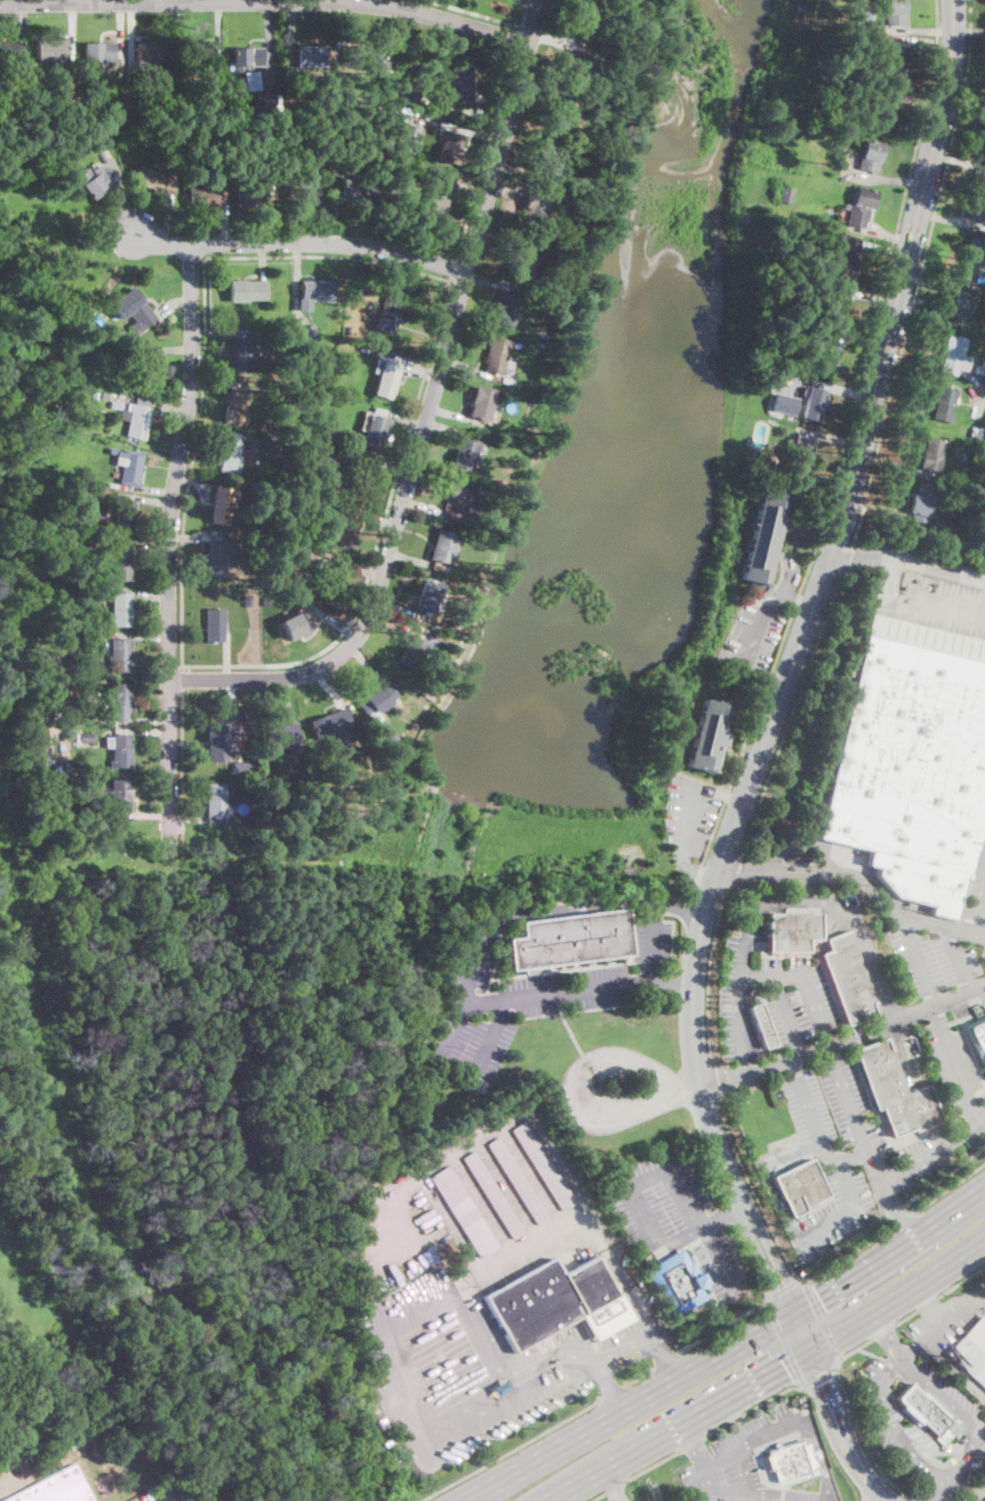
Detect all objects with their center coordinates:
road: (161, 0)
road: (12, 1)
road: (59, 1)
road: (316, 1)
road: (367, 1)
road: (268, 2)
road: (378, 2)
road: (534, 2)
building: (800, 6)
road: (473, 12)
building: (893, 12)
road: (525, 13)
building: (587, 16)
road: (19, 20)
road: (367, 25)
road: (120, 26)
road: (133, 27)
road: (72, 29)
road: (219, 29)
road: (919, 29)
road: (292, 30)
road: (268, 31)
road: (970, 31)
road: (518, 37)
road: (558, 40)
road: (923, 40)
building: (11, 52)
building: (52, 52)
building: (99, 52)
building: (149, 52)
building: (196, 54)
building: (313, 56)
building: (362, 56)
building: (246, 58)
building: (891, 60)
building: (573, 66)
building: (251, 80)
building: (460, 84)
road: (967, 84)
building: (407, 90)
road: (536, 92)
road: (920, 103)
building: (265, 105)
building: (882, 108)
building: (561, 110)
building: (117, 111)
road: (465, 111)
building: (147, 114)
road: (453, 125)
building: (100, 139)
building: (406, 139)
road: (521, 140)
building: (367, 143)
building: (452, 144)
road: (486, 153)
building: (869, 155)
building: (547, 161)
road: (958, 168)
building: (984, 169)
building: (397, 172)
building: (156, 178)
road: (885, 179)
building: (95, 182)
road: (471, 187)
road: (120, 189)
road: (506, 191)
building: (786, 192)
building: (358, 193)
building: (301, 194)
building: (252, 195)
building: (204, 196)
building: (434, 196)
building: (979, 203)
building: (860, 207)
building: (534, 208)
road: (271, 214)
road: (322, 214)
road: (335, 214)
road: (227, 215)
road: (166, 220)
road: (948, 220)
road: (500, 233)
road: (890, 235)
road: (299, 242)
road: (884, 249)
building: (523, 255)
road: (328, 256)
building: (843, 256)
building: (973, 256)
road: (264, 261)
road: (296, 269)
road: (454, 269)
road: (935, 269)
road: (398, 273)
road: (919, 275)
road: (927, 280)
road: (488, 281)
building: (248, 289)
building: (314, 293)
road: (875, 298)
road: (174, 304)
building: (959, 304)
building: (836, 305)
building: (136, 309)
building: (507, 310)
building: (388, 314)
building: (348, 328)
road: (222, 330)
building: (308, 332)
building: (538, 334)
road: (859, 341)
building: (537, 344)
road: (168, 349)
building: (241, 354)
building: (498, 354)
building: (952, 354)
building: (826, 356)
road: (414, 364)
road: (470, 367)
building: (982, 368)
building: (142, 370)
road: (975, 374)
road: (975, 379)
building: (386, 380)
building: (322, 381)
building: (507, 381)
road: (209, 383)
road: (831, 387)
building: (117, 396)
building: (786, 402)
building: (943, 403)
road: (978, 403)
building: (237, 404)
building: (482, 404)
building: (813, 404)
road: (167, 405)
road: (425, 416)
road: (406, 420)
building: (136, 421)
road: (449, 426)
building: (376, 429)
road: (206, 430)
road: (831, 437)
building: (327, 438)
building: (269, 447)
building: (113, 450)
building: (283, 451)
building: (230, 453)
building: (801, 453)
building: (464, 454)
road: (843, 454)
building: (323, 455)
building: (933, 455)
road: (373, 460)
road: (192, 463)
road: (890, 467)
building: (130, 468)
building: (115, 473)
building: (359, 475)
road: (199, 480)
road: (144, 488)
building: (123, 493)
road: (145, 499)
building: (459, 500)
building: (921, 502)
building: (222, 506)
road: (420, 508)
building: (98, 513)
road: (372, 516)
building: (123, 517)
road: (882, 518)
building: (347, 528)
building: (947, 531)
building: (763, 536)
road: (193, 537)
building: (486, 539)
road: (378, 540)
road: (144, 544)
building: (442, 547)
building: (219, 556)
road: (906, 557)
road: (169, 558)
road: (409, 558)
building: (121, 564)
road: (845, 565)
road: (359, 567)
park: (3, 573)
building: (329, 578)
road: (886, 582)
road: (784, 591)
road: (141, 595)
building: (425, 596)
parking lot: (930, 600)
building: (65, 602)
road: (399, 608)
building: (121, 610)
road: (941, 611)
road: (394, 622)
building: (215, 625)
road: (758, 625)
building: (296, 628)
road: (337, 631)
parking lot: (753, 633)
road: (141, 636)
building: (411, 652)
building: (120, 654)
road: (227, 659)
road: (366, 663)
road: (182, 681)
road: (784, 682)
road: (333, 684)
road: (232, 690)
building: (51, 692)
road: (287, 698)
building: (120, 700)
building: (378, 702)
building: (233, 713)
road: (146, 721)
road: (790, 721)
building: (330, 723)
road: (143, 731)
building: (708, 734)
building: (284, 737)
building: (392, 737)
building: (86, 738)
building: (219, 741)
building: (119, 750)
building: (913, 761)
building: (242, 767)
road: (182, 774)
building: (252, 785)
building: (120, 795)
road: (728, 796)
building: (215, 800)
parking lot: (690, 809)
road: (689, 813)
road: (148, 815)
road: (197, 819)
dam: (415, 820)
road: (146, 825)
road: (198, 827)
dam: (550, 836)
road: (797, 844)
building: (121, 846)
building: (217, 848)
road: (690, 869)
road: (735, 871)
road: (861, 873)
parking lot: (977, 891)
road: (978, 902)
road: (981, 904)
road: (587, 905)
road: (852, 915)
building: (791, 931)
building: (569, 940)
road: (652, 944)
road: (958, 958)
road: (711, 969)
building: (848, 978)
road: (672, 983)
road: (740, 985)
road: (556, 992)
building: (753, 992)
road: (959, 995)
parking lot: (529, 997)
road: (464, 1002)
parking lot: (948, 1013)
road: (786, 1014)
road: (937, 1016)
building: (763, 1026)
road: (492, 1037)
building: (977, 1037)
road: (817, 1048)
road: (904, 1050)
road: (831, 1051)
parking lot: (815, 1058)
road: (793, 1066)
road: (745, 1068)
road: (715, 1077)
road: (586, 1085)
road: (687, 1085)
parking lot: (617, 1088)
building: (894, 1092)
road: (808, 1109)
road: (473, 1141)
road: (933, 1151)
road: (842, 1159)
building: (543, 1165)
road: (706, 1167)
road: (534, 1179)
road: (567, 1179)
road: (767, 1179)
building: (517, 1181)
building: (800, 1186)
road: (754, 1188)
road: (630, 1191)
road: (509, 1192)
building: (493, 1195)
road: (936, 1197)
road: (483, 1207)
road: (728, 1210)
road: (846, 1211)
building: (464, 1212)
parking lot: (833, 1213)
road: (724, 1214)
road: (880, 1214)
road: (895, 1215)
parking lot: (673, 1216)
road: (452, 1223)
road: (897, 1223)
parking lot: (398, 1236)
road: (537, 1247)
road: (717, 1258)
road: (839, 1259)
road: (960, 1279)
traffic signals: (784, 1280)
building: (677, 1283)
road: (782, 1286)
traffic signals: (819, 1299)
building: (557, 1302)
road: (926, 1302)
road: (638, 1305)
road: (926, 1305)
road: (762, 1308)
road: (905, 1315)
road: (820, 1316)
road: (881, 1329)
road: (887, 1336)
road: (644, 1343)
road: (785, 1343)
building: (971, 1351)
road: (725, 1352)
road: (871, 1353)
road: (560, 1356)
road: (396, 1357)
parking lot: (488, 1361)
road: (667, 1362)
traffic signals: (784, 1364)
road: (893, 1367)
road: (766, 1373)
road: (817, 1375)
road: (520, 1376)
road: (640, 1379)
traffic signals: (821, 1382)
road: (608, 1384)
road: (611, 1389)
road: (751, 1405)
building: (925, 1412)
road: (854, 1415)
road: (959, 1423)
road: (837, 1431)
parking lot: (914, 1435)
road: (690, 1442)
road: (692, 1444)
road: (740, 1449)
road: (511, 1450)
parking lot: (746, 1459)
building: (790, 1462)
road: (945, 1462)
road: (650, 1464)
road: (745, 1473)
road: (949, 1474)
road: (619, 1476)
road: (614, 1484)
building: (56, 1488)
road: (945, 1488)
parking lot: (158, 1492)
road: (595, 1495)
road: (168, 1500)

